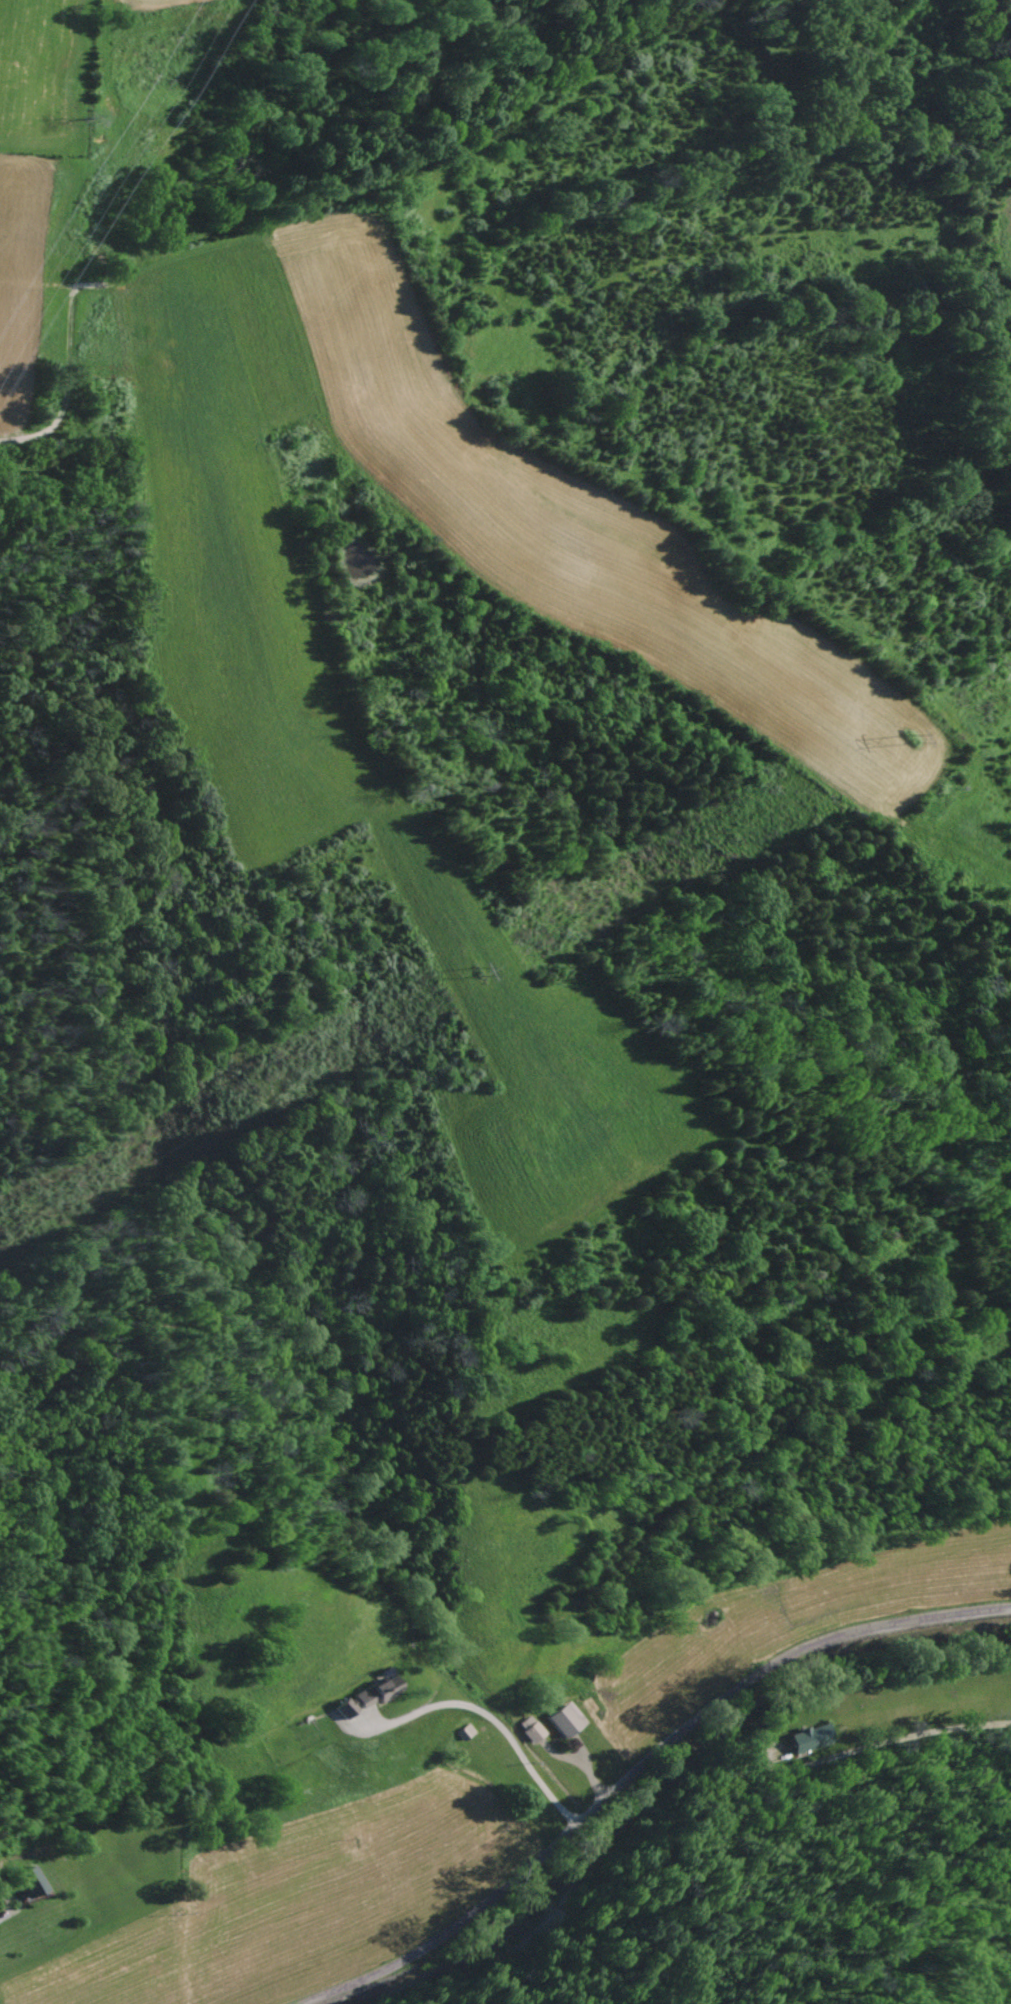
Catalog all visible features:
power tower: (912, 730)
power tower: (478, 967)
building: (380, 1692)
building: (345, 1710)
building: (564, 1721)
building: (528, 1730)
building: (811, 1738)
road: (622, 1743)
building: (30, 1884)

